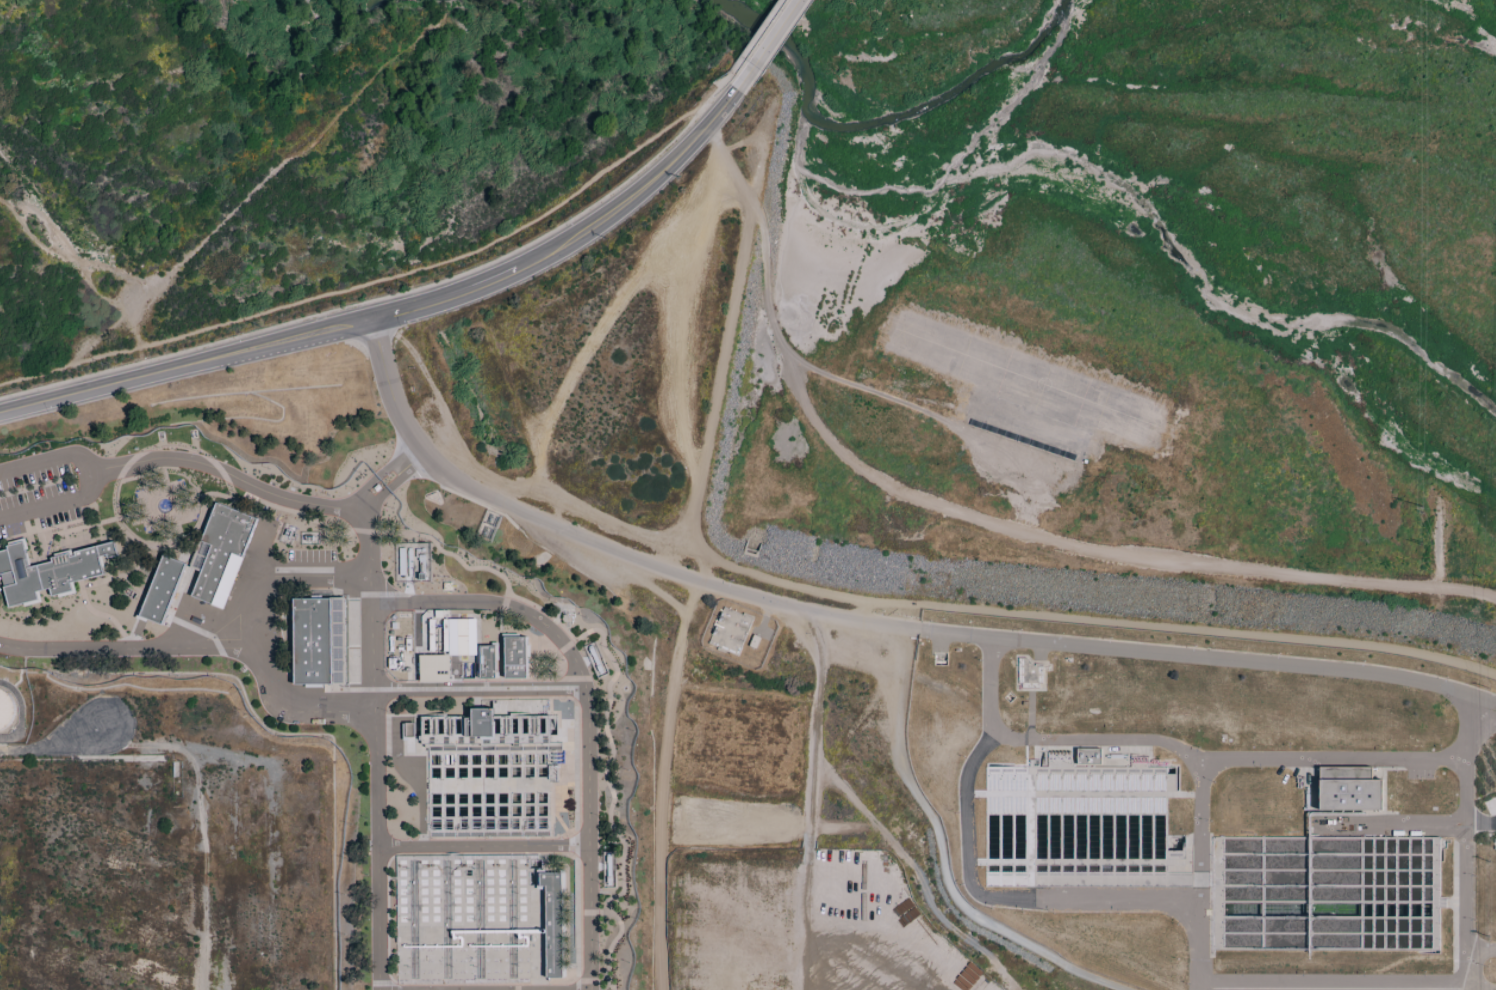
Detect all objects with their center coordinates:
road: (753, 40)
road: (766, 45)
road: (761, 224)
road: (61, 250)
road: (421, 270)
road: (397, 312)
road: (136, 325)
road: (788, 351)
road: (35, 375)
park: (1030, 390)
road: (715, 392)
building: (1020, 439)
airport runway: (1151, 439)
road: (415, 458)
road: (48, 459)
parking lot: (1021, 469)
road: (224, 473)
road: (380, 474)
road: (390, 485)
road: (56, 502)
road: (1015, 534)
road: (591, 547)
building: (220, 554)
building: (47, 571)
road: (312, 575)
road: (1288, 577)
building: (161, 589)
road: (252, 589)
road: (804, 590)
road: (368, 597)
road: (497, 603)
road: (1205, 631)
building: (318, 641)
road: (199, 648)
building: (515, 657)
road: (1208, 658)
building: (486, 661)
building: (433, 668)
wastewater plant: (335, 688)
road: (479, 693)
building: (5, 710)
building: (408, 729)
road: (1163, 741)
road: (52, 743)
building: (1087, 755)
road: (1329, 757)
building: (489, 773)
building: (1348, 789)
road: (819, 799)
wastewater plant: (1212, 804)
road: (1391, 821)
road: (1461, 842)
road: (480, 845)
road: (939, 854)
building: (474, 918)
road: (1479, 946)
road: (1419, 989)

